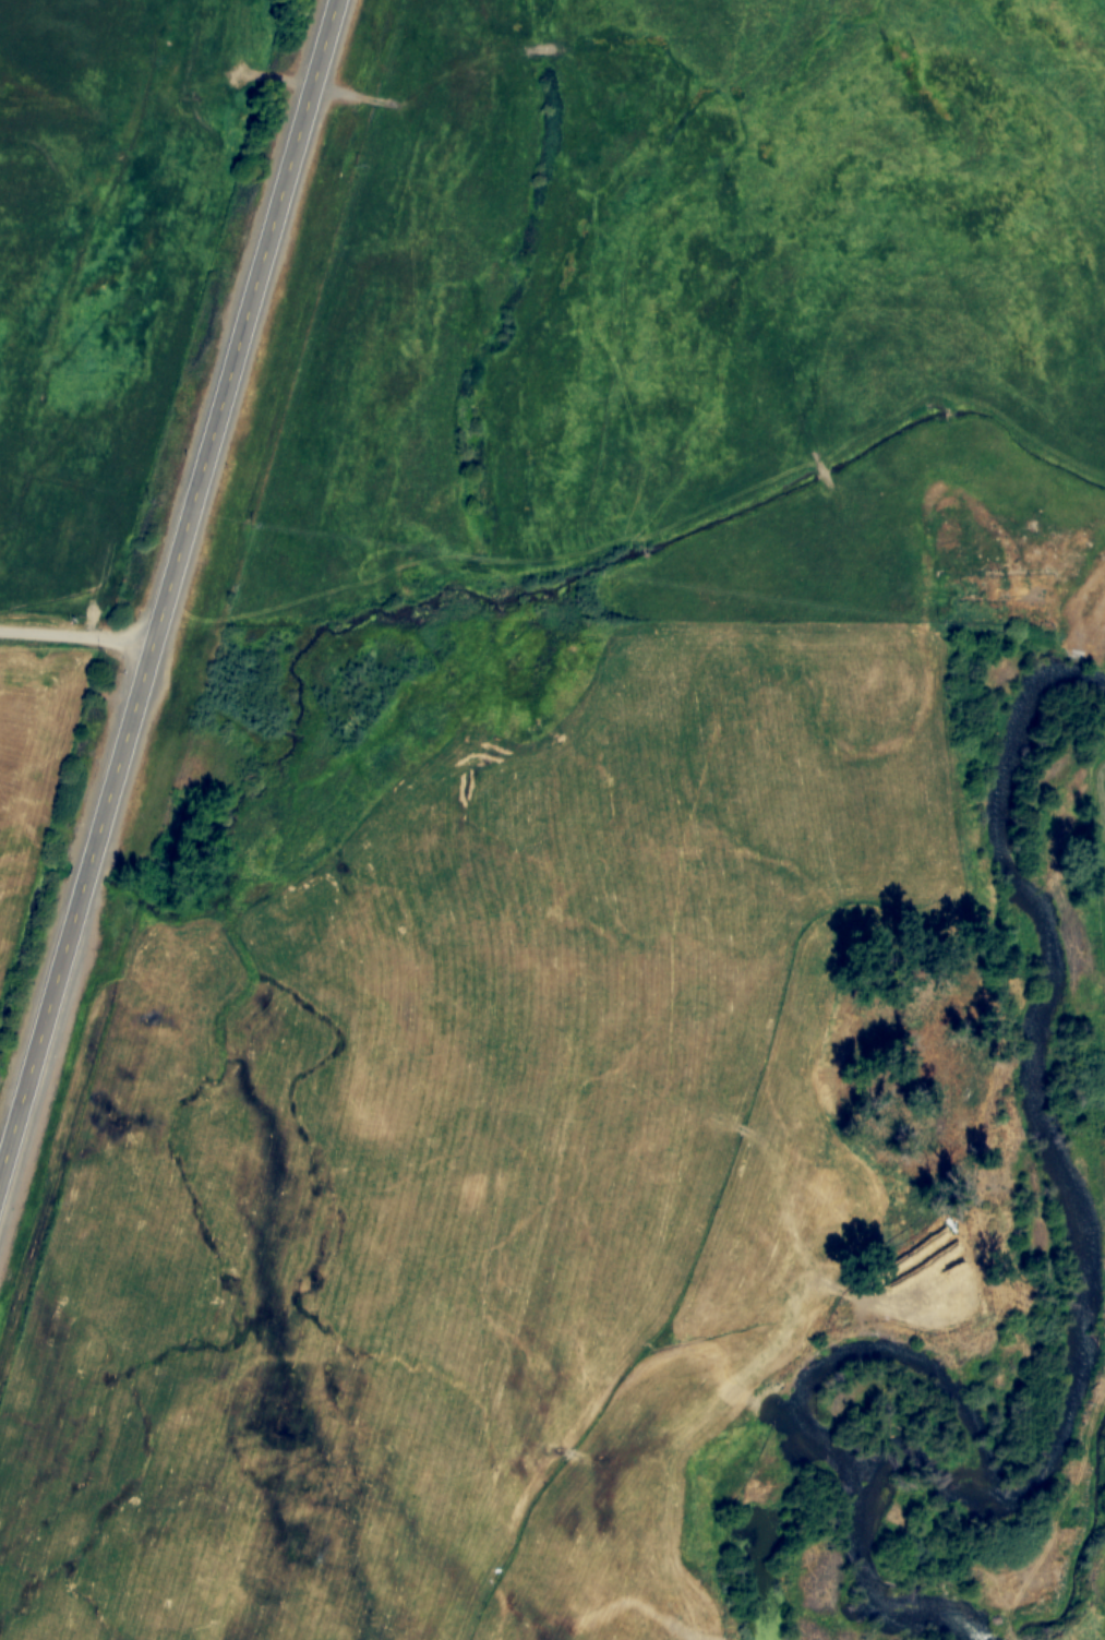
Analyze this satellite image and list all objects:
road: (168, 587)
road: (75, 637)
river: (1074, 1381)

